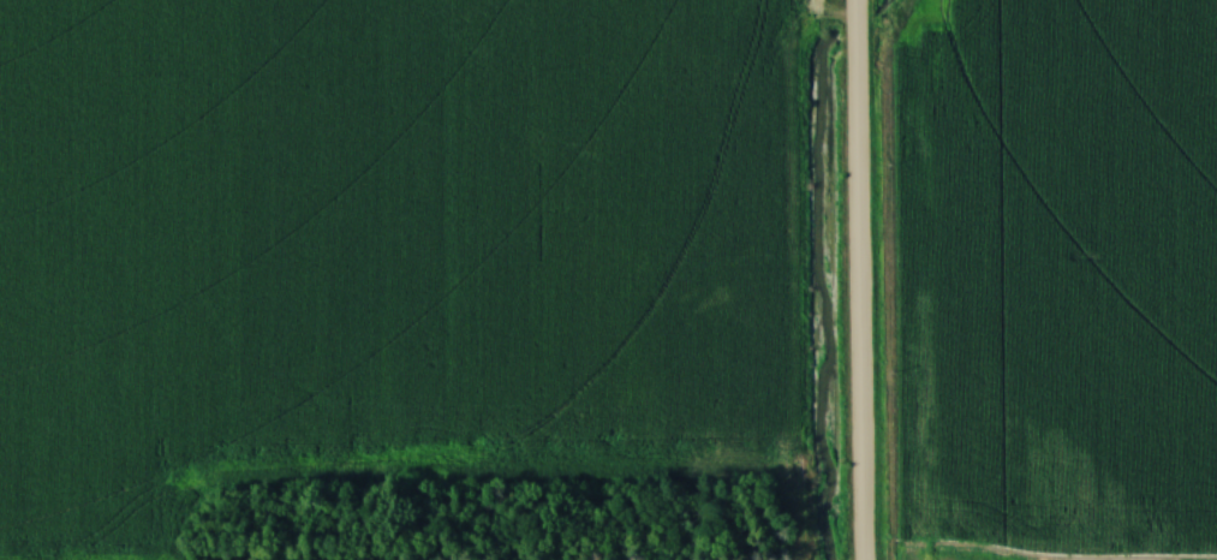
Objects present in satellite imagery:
road: (857, 280)

